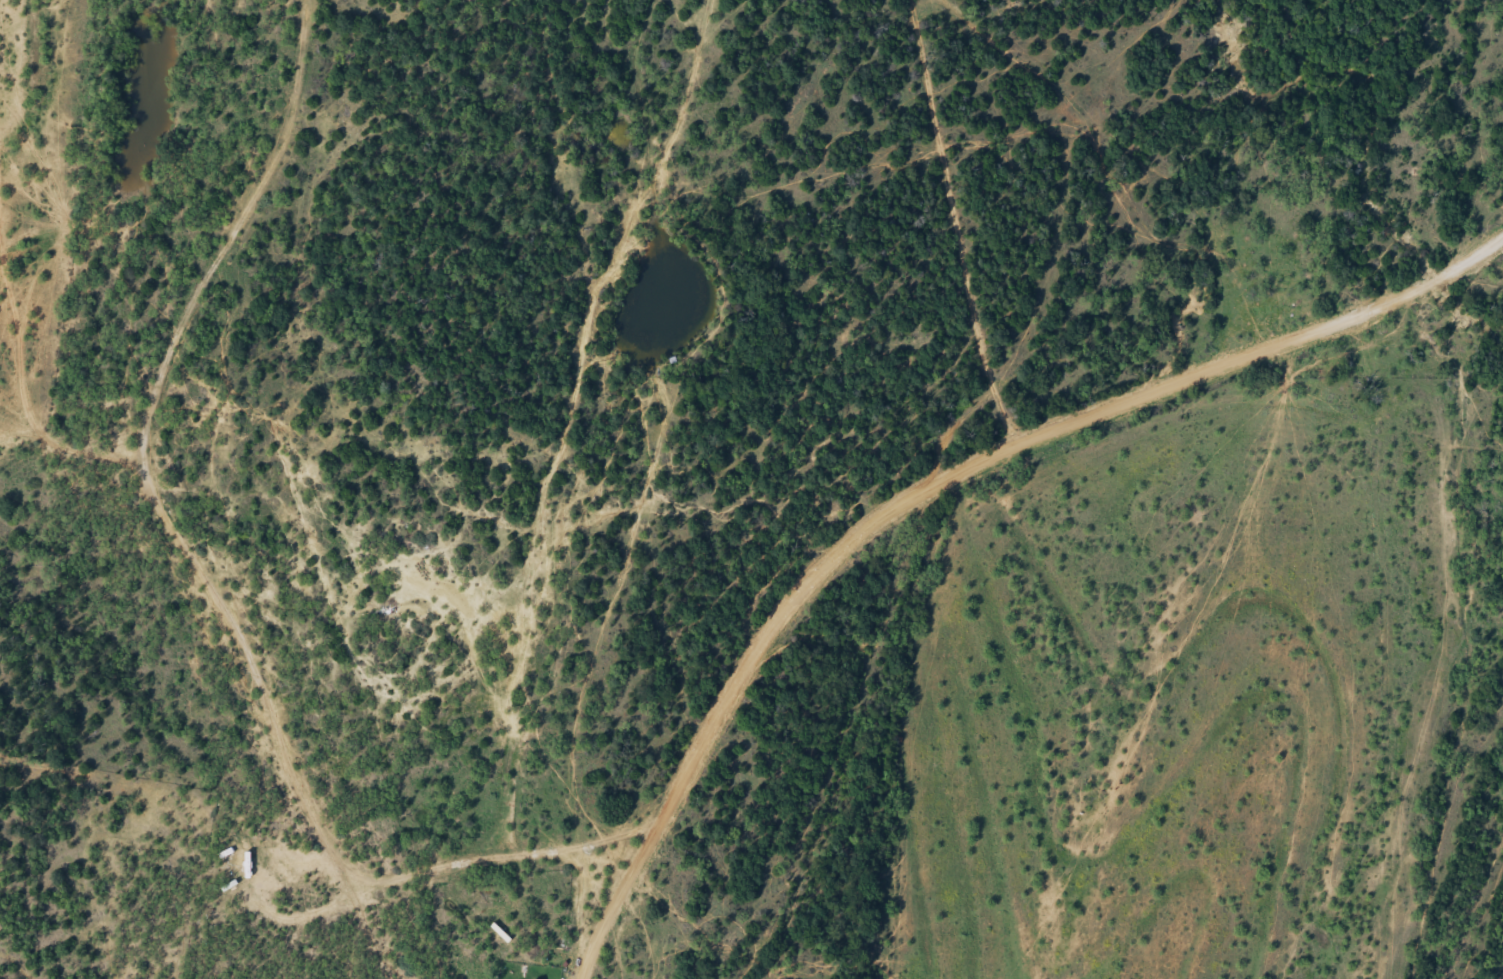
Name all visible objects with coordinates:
road: (972, 468)
road: (218, 558)
road: (600, 943)

